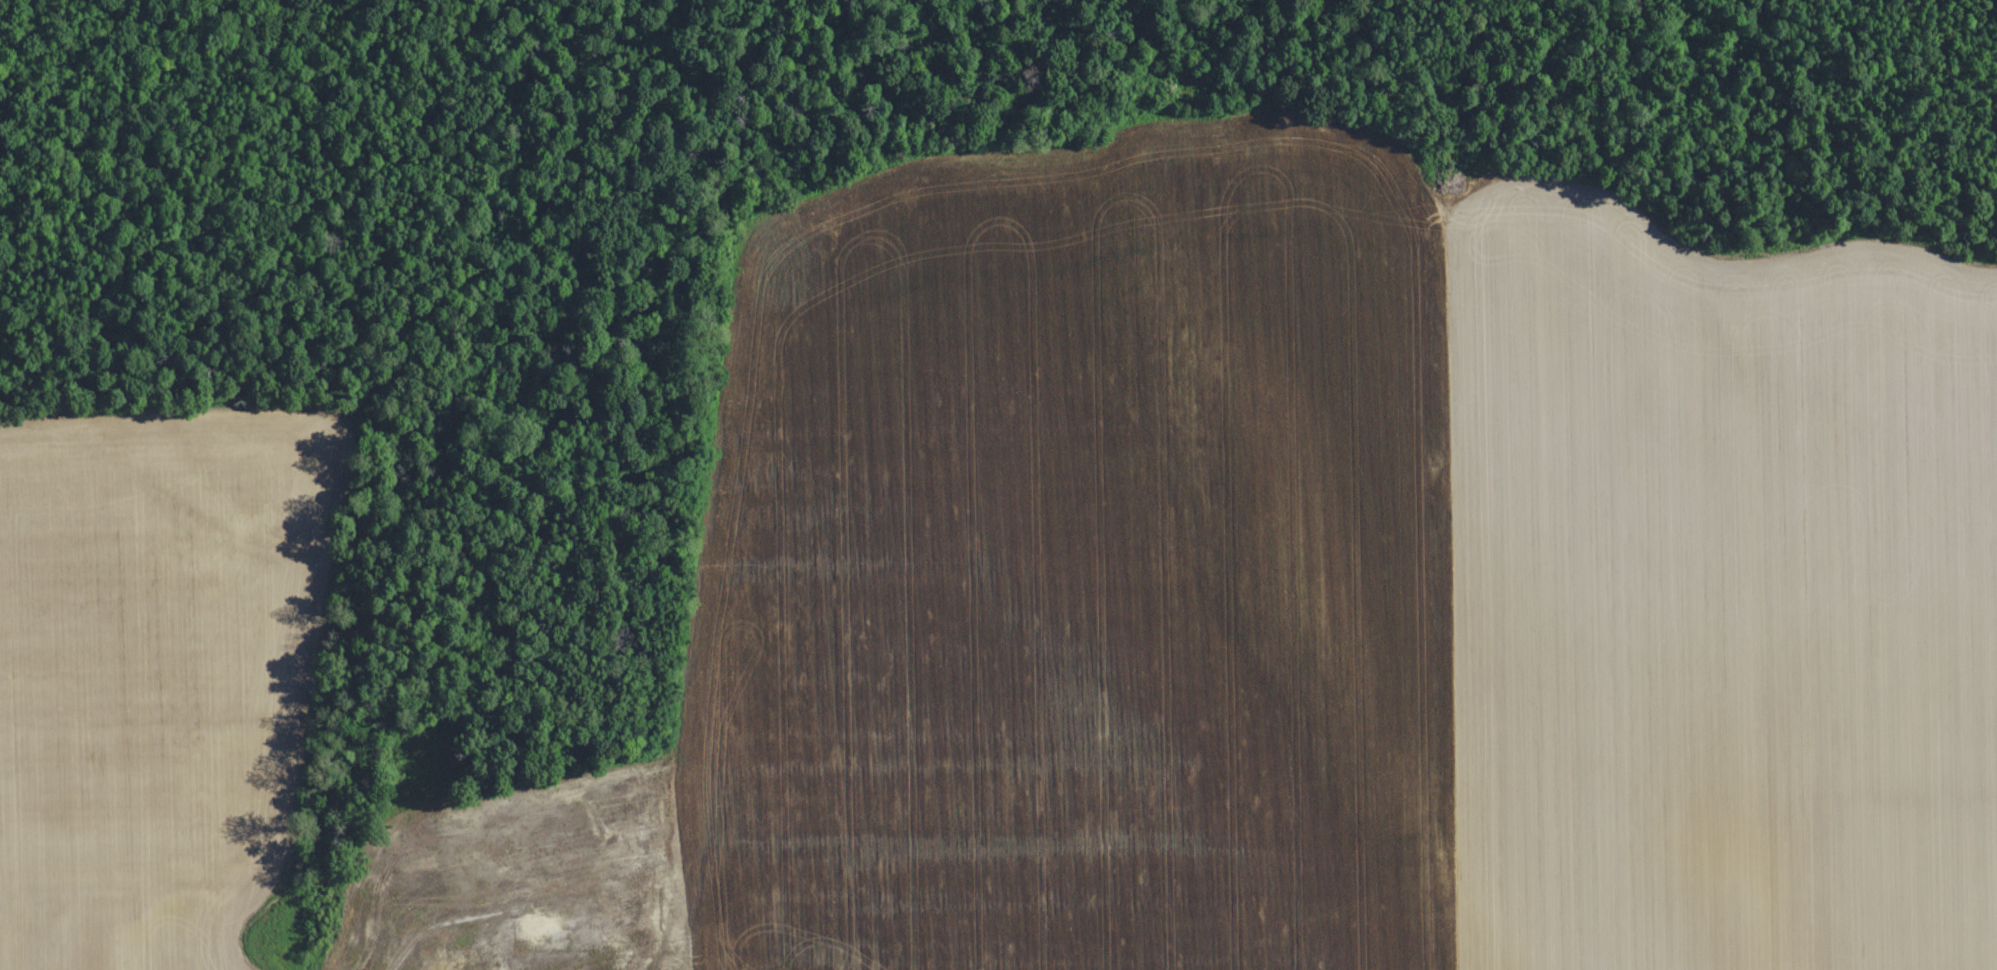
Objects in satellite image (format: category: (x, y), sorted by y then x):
road: (406, 959)

